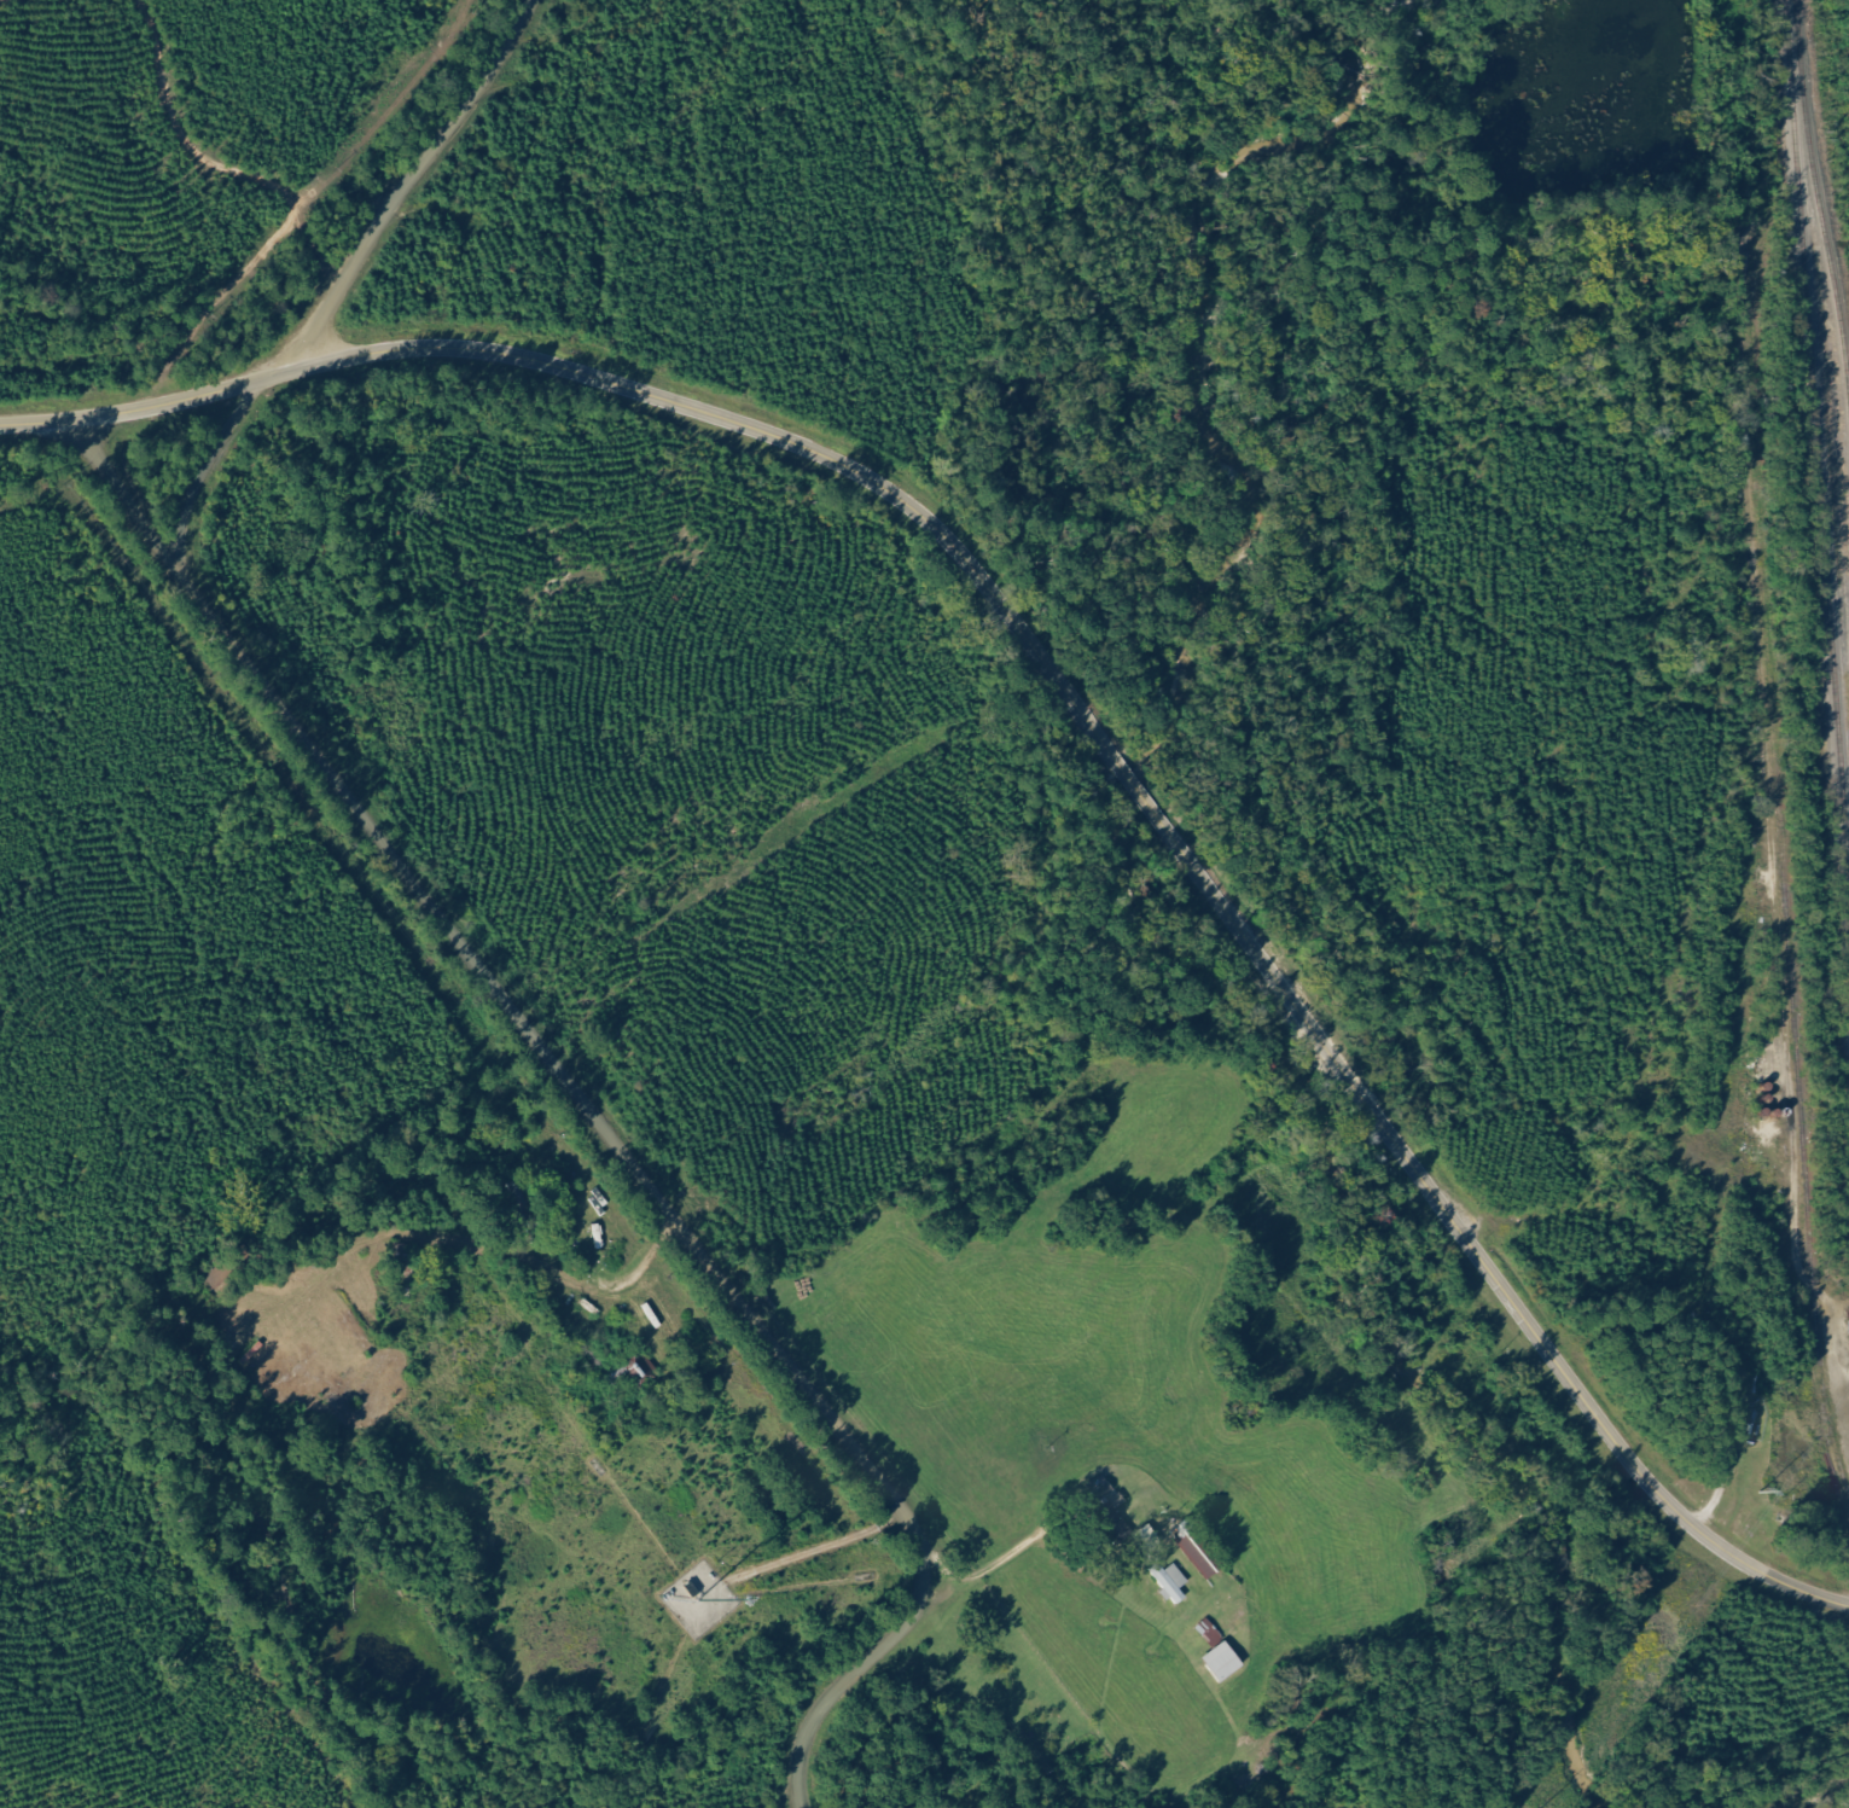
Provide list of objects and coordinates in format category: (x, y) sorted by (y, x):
road: (390, 190)
railway: (1821, 223)
railway: (1815, 454)
road: (123, 496)
road: (1070, 705)
railway: (1770, 765)
road: (575, 1092)
building: (1171, 1581)
building: (1226, 1661)

